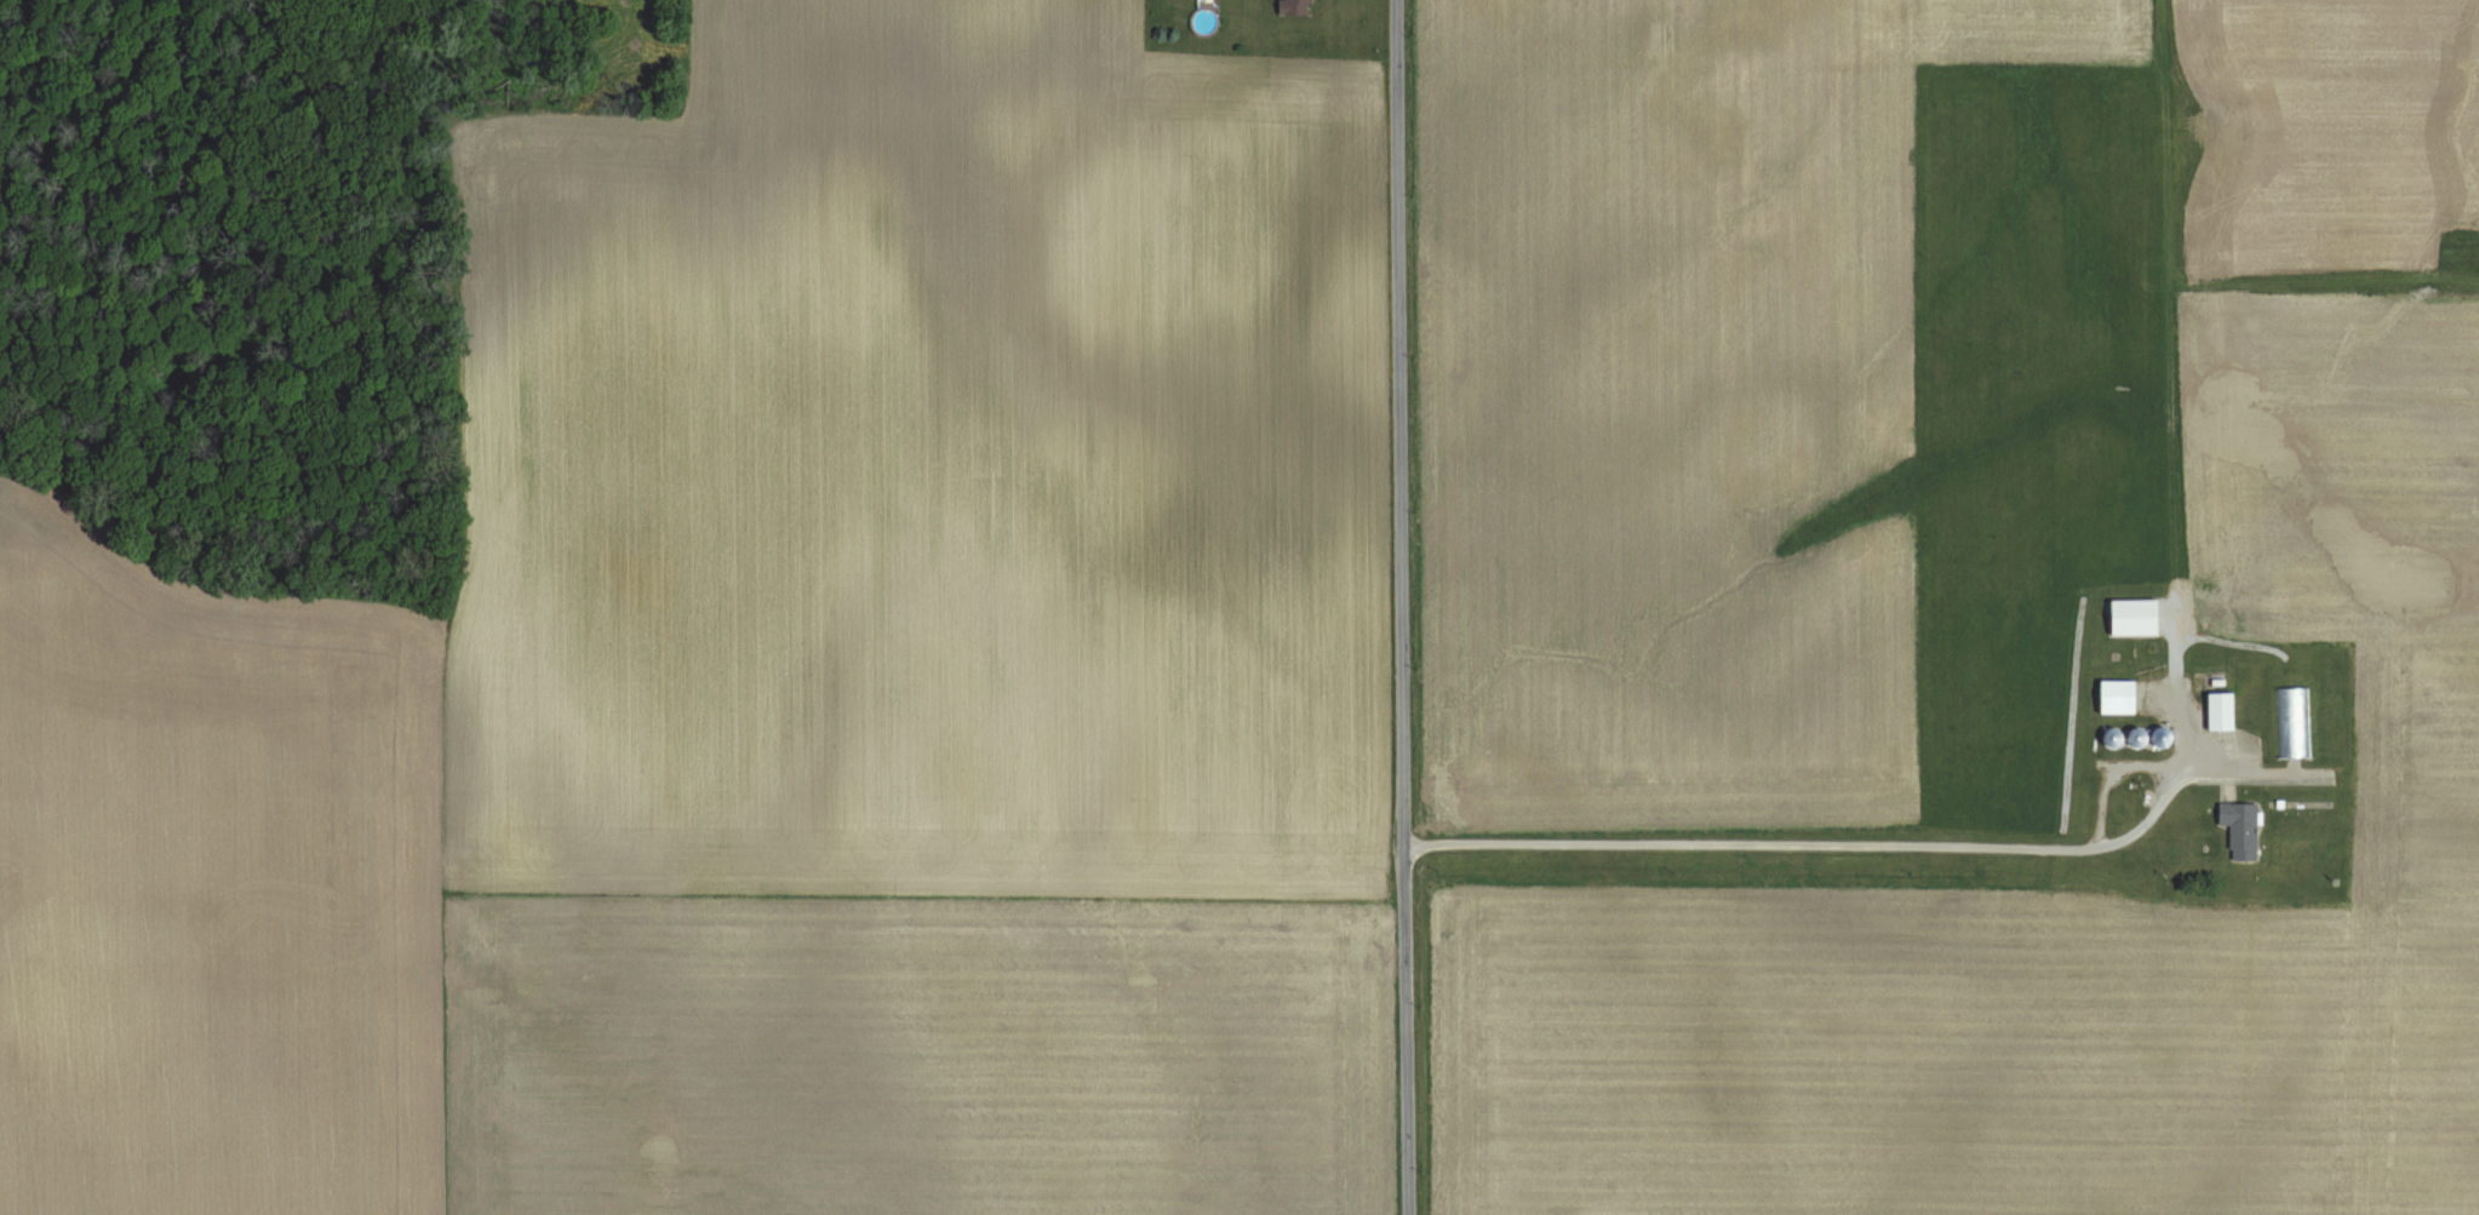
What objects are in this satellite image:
building: (1296, 7)
road: (1403, 607)
building: (2134, 618)
building: (2117, 698)
building: (2221, 711)
building: (2295, 722)
road: (2243, 773)
building: (2240, 829)
road: (1887, 848)

